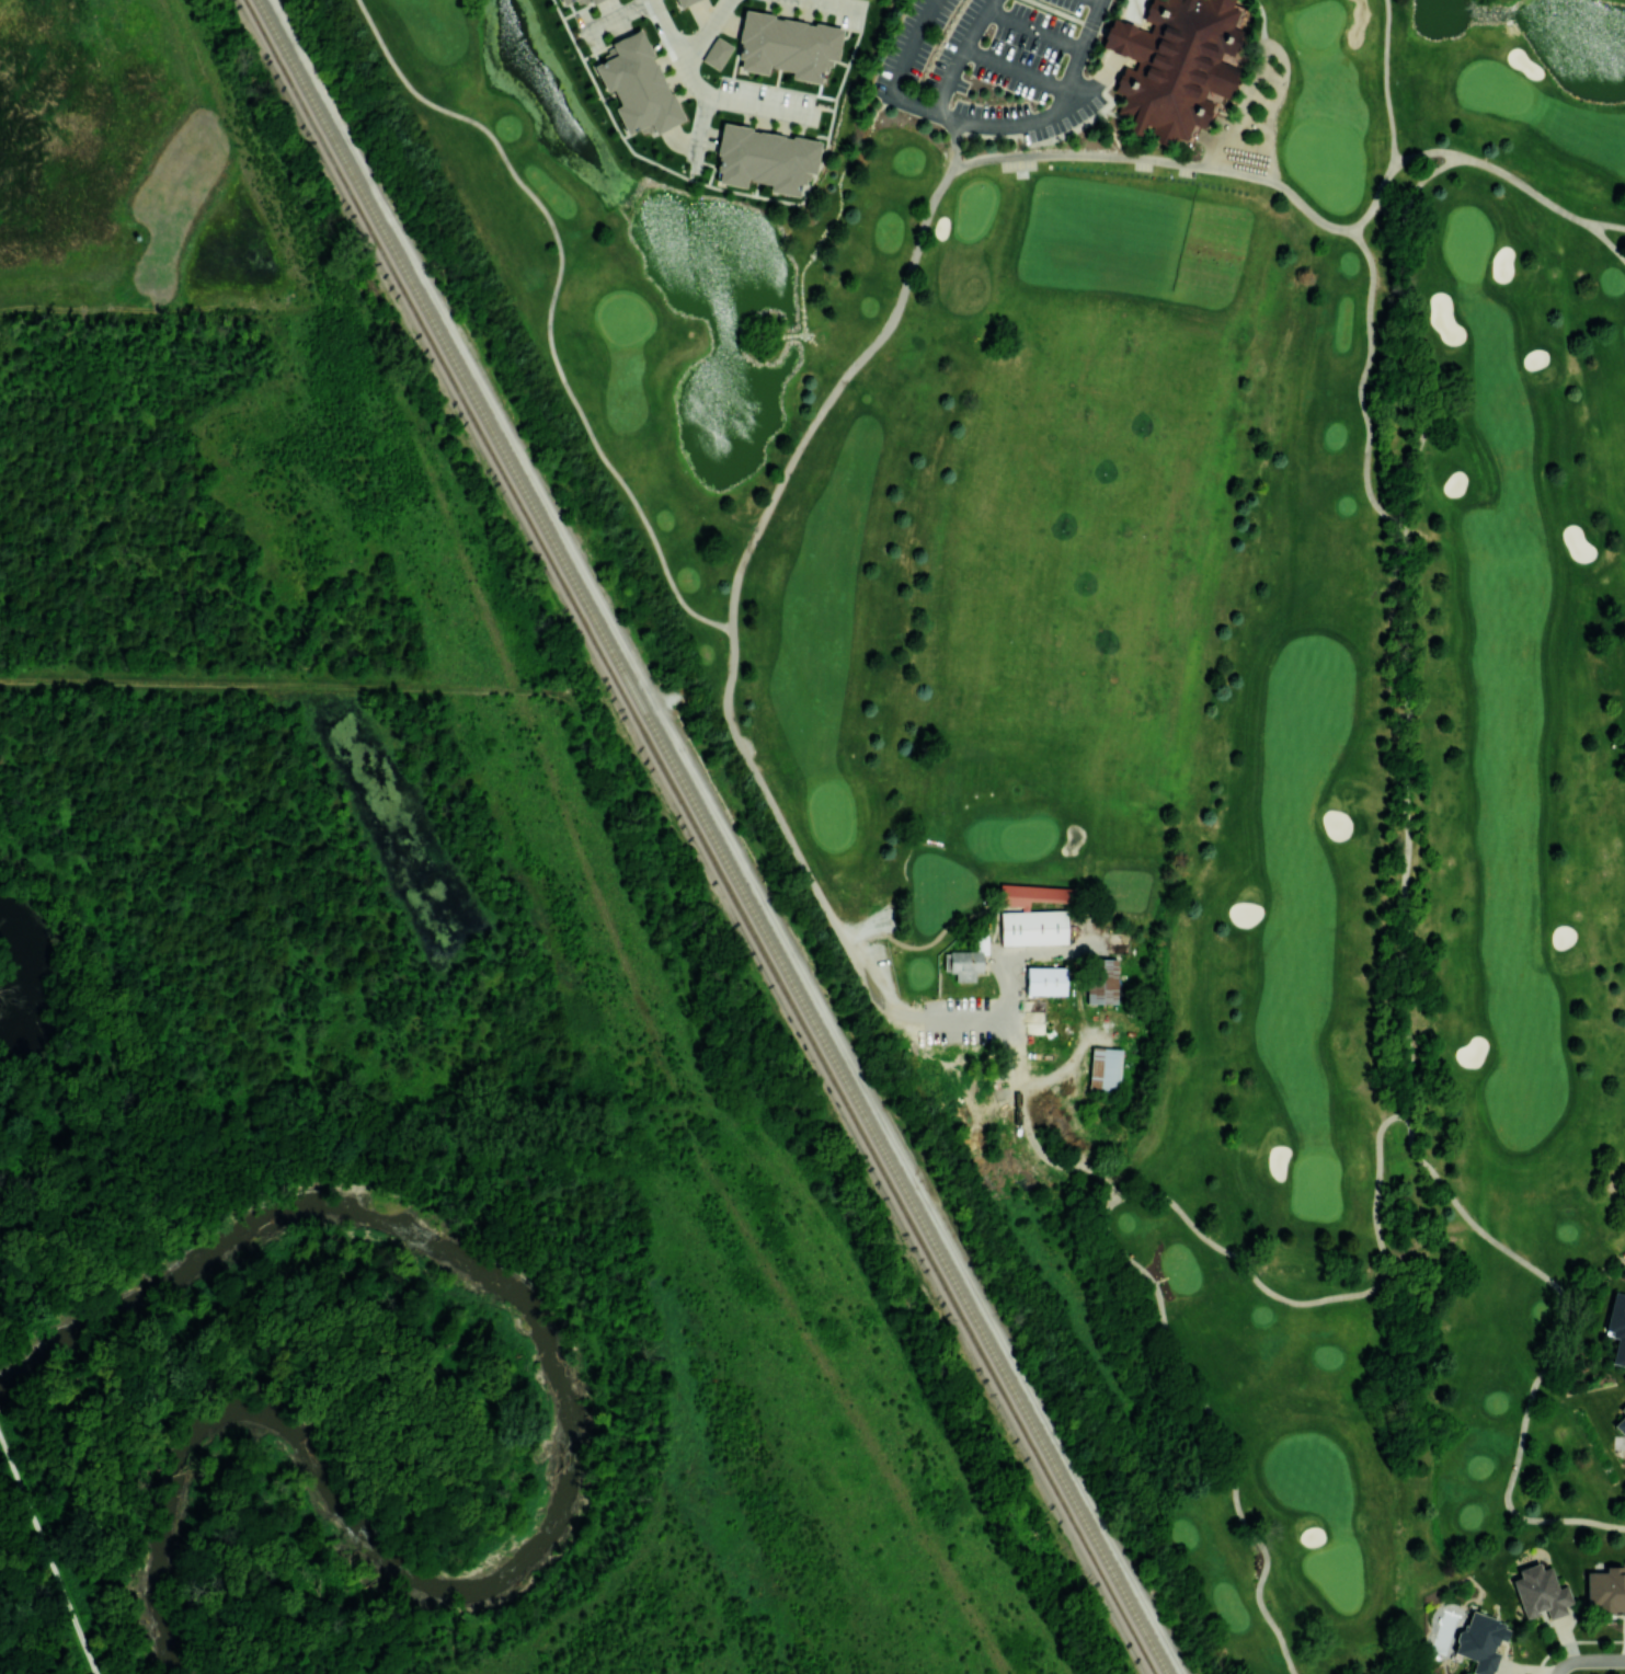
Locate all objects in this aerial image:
road: (1101, 0)
building: (567, 1)
building: (594, 1)
building: (683, 2)
road: (846, 2)
road: (613, 15)
road: (1262, 20)
road: (667, 25)
road: (706, 28)
road: (1035, 30)
building: (1129, 42)
building: (785, 43)
road: (911, 46)
road: (1085, 46)
building: (717, 53)
road: (961, 54)
road: (1114, 61)
parking lot: (985, 64)
building: (1180, 67)
road: (1015, 71)
road: (689, 73)
road: (1386, 82)
building: (637, 84)
road: (760, 103)
road: (1273, 104)
road: (1244, 106)
road: (983, 126)
road: (701, 128)
road: (954, 147)
railway: (329, 152)
road: (1427, 152)
road: (1084, 154)
building: (765, 158)
road: (1245, 174)
road: (1526, 186)
road: (1376, 199)
road: (1308, 209)
road: (1606, 225)
road: (1606, 240)
road: (552, 302)
road: (1362, 382)
road: (833, 393)
park: (1095, 540)
road: (1404, 611)
road: (270, 685)
road: (728, 688)
park: (1159, 689)
park: (1023, 700)
railway: (714, 836)
road: (791, 840)
building: (1035, 893)
road: (865, 925)
building: (1033, 928)
road: (1022, 955)
building: (972, 960)
building: (1048, 978)
building: (1101, 979)
railway: (782, 989)
road: (903, 1017)
road: (1011, 1054)
building: (1105, 1069)
road: (1050, 1081)
road: (1004, 1093)
road: (1049, 1159)
road: (797, 1174)
road: (562, 1190)
road: (1319, 1299)
building: (1617, 1327)
road: (1563, 1344)
building: (1621, 1421)
road: (1216, 1428)
road: (4, 1451)
river: (563, 1467)
road: (53, 1568)
building: (1605, 1591)
building: (1541, 1592)
building: (1481, 1641)
road: (1588, 1660)

